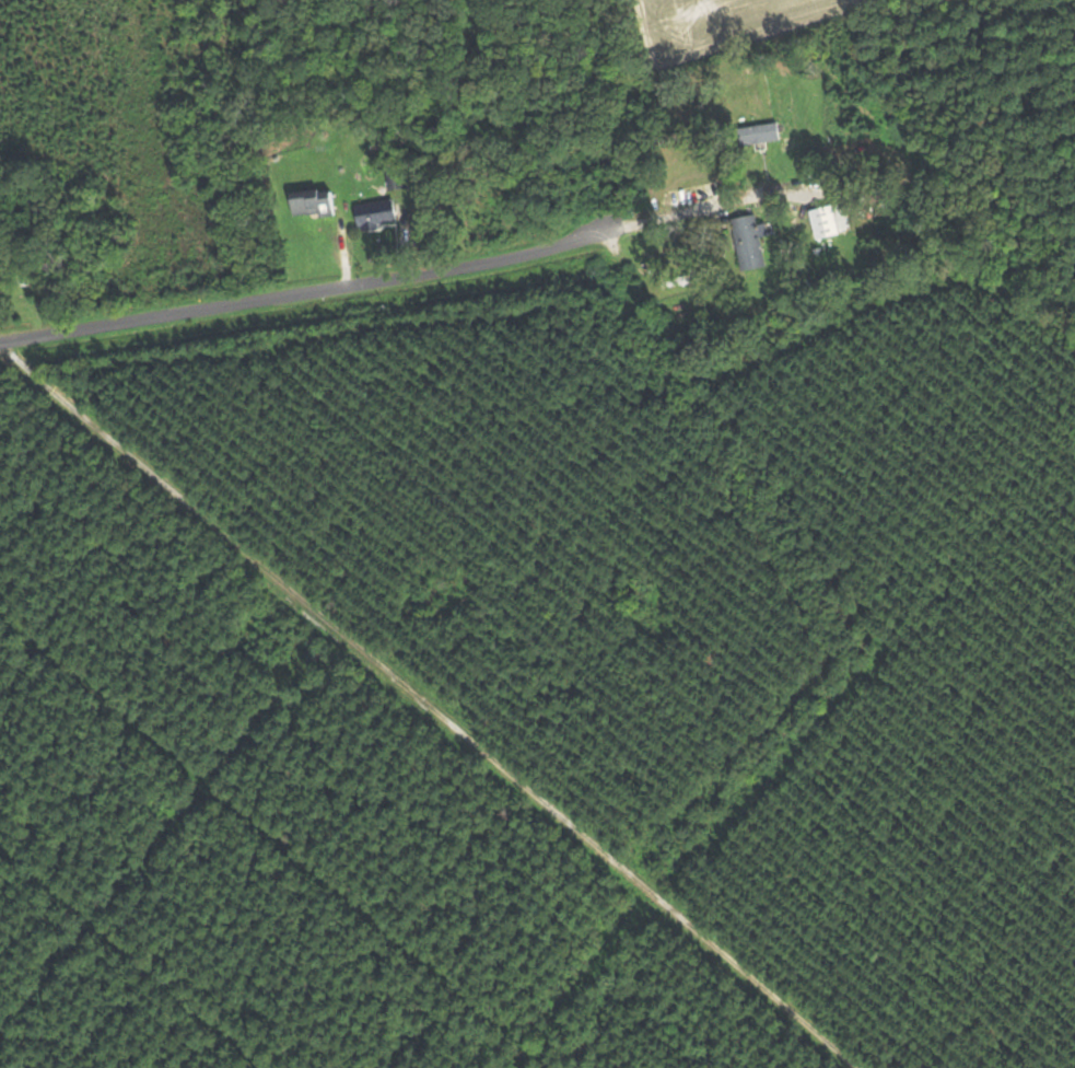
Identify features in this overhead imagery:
road: (914, 98)
building: (764, 133)
building: (400, 178)
building: (318, 206)
building: (381, 213)
building: (830, 224)
building: (752, 244)
road: (379, 282)
road: (464, 704)

